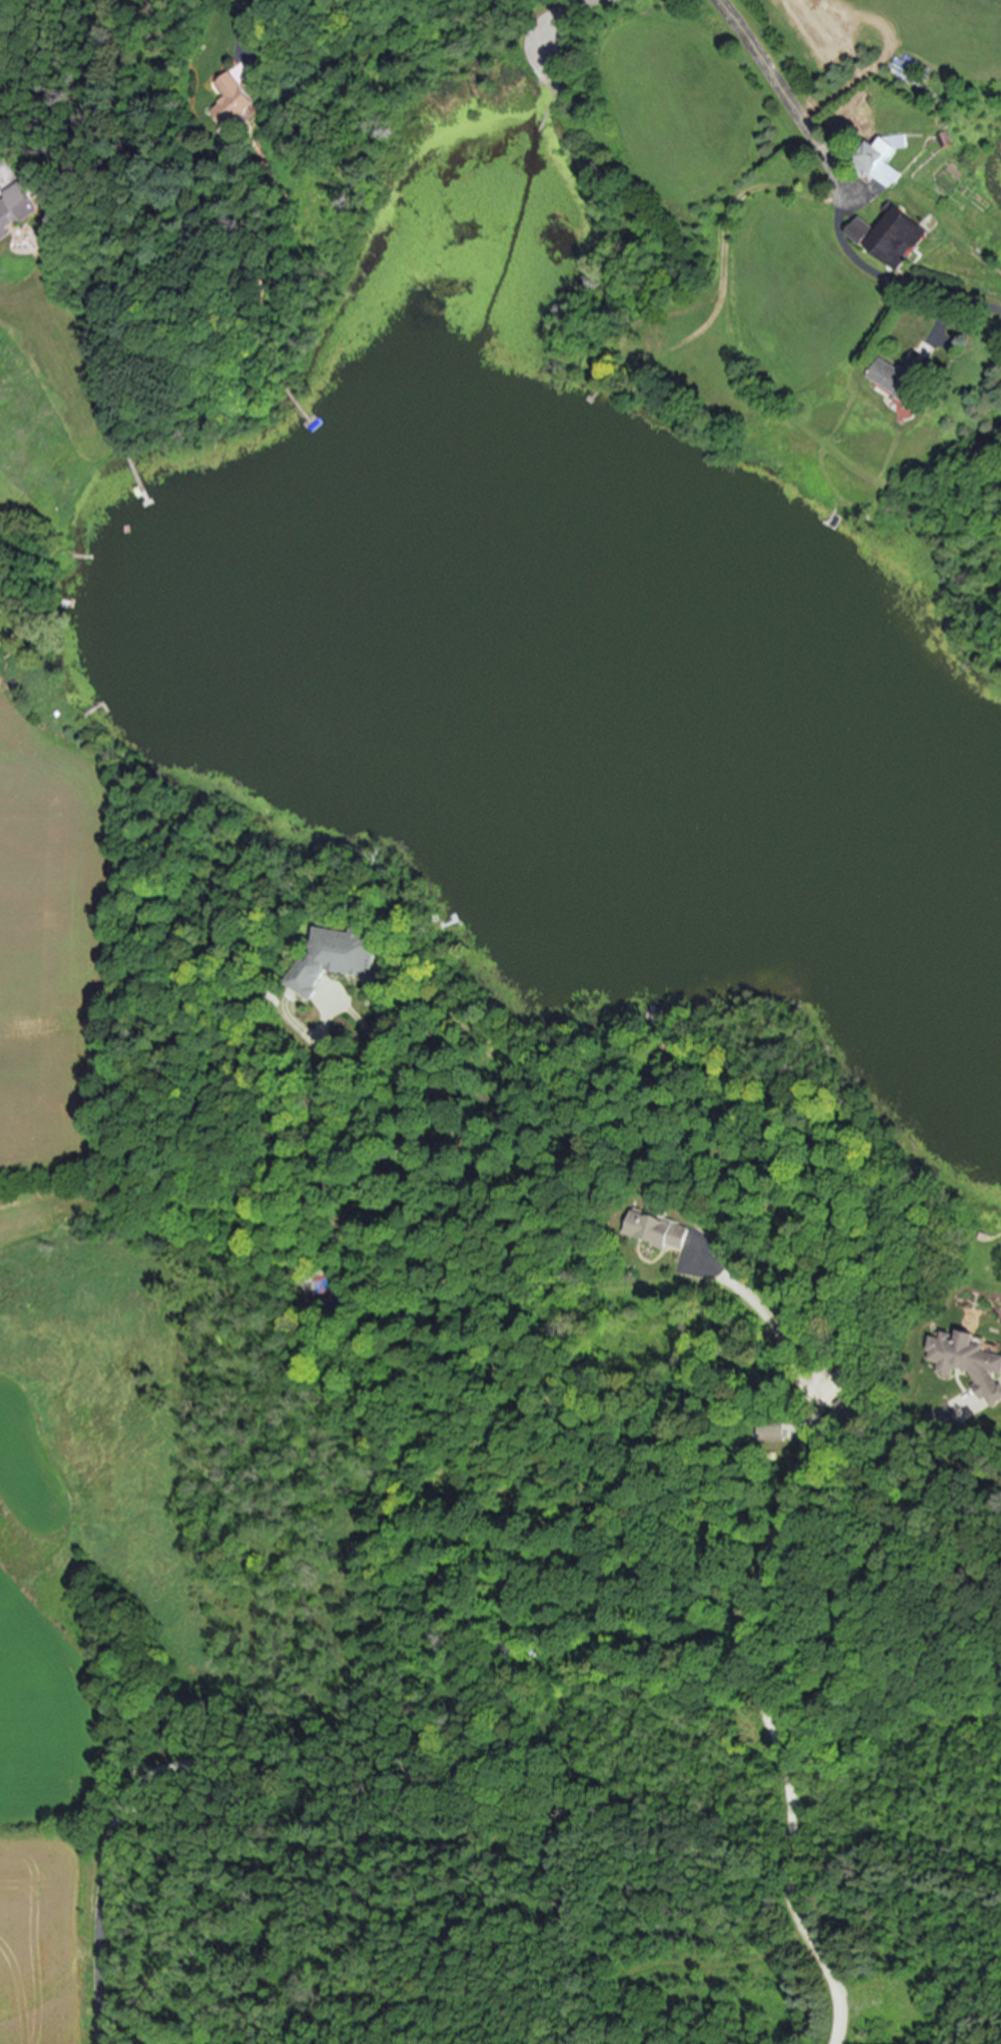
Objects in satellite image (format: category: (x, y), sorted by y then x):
road: (591, 1)
road: (243, 18)
road: (768, 69)
building: (230, 102)
building: (879, 160)
building: (13, 209)
building: (885, 238)
road: (865, 266)
building: (898, 379)
building: (335, 958)
building: (651, 1230)
building: (967, 1364)
building: (769, 1434)
road: (489, 1644)
road: (746, 1646)

